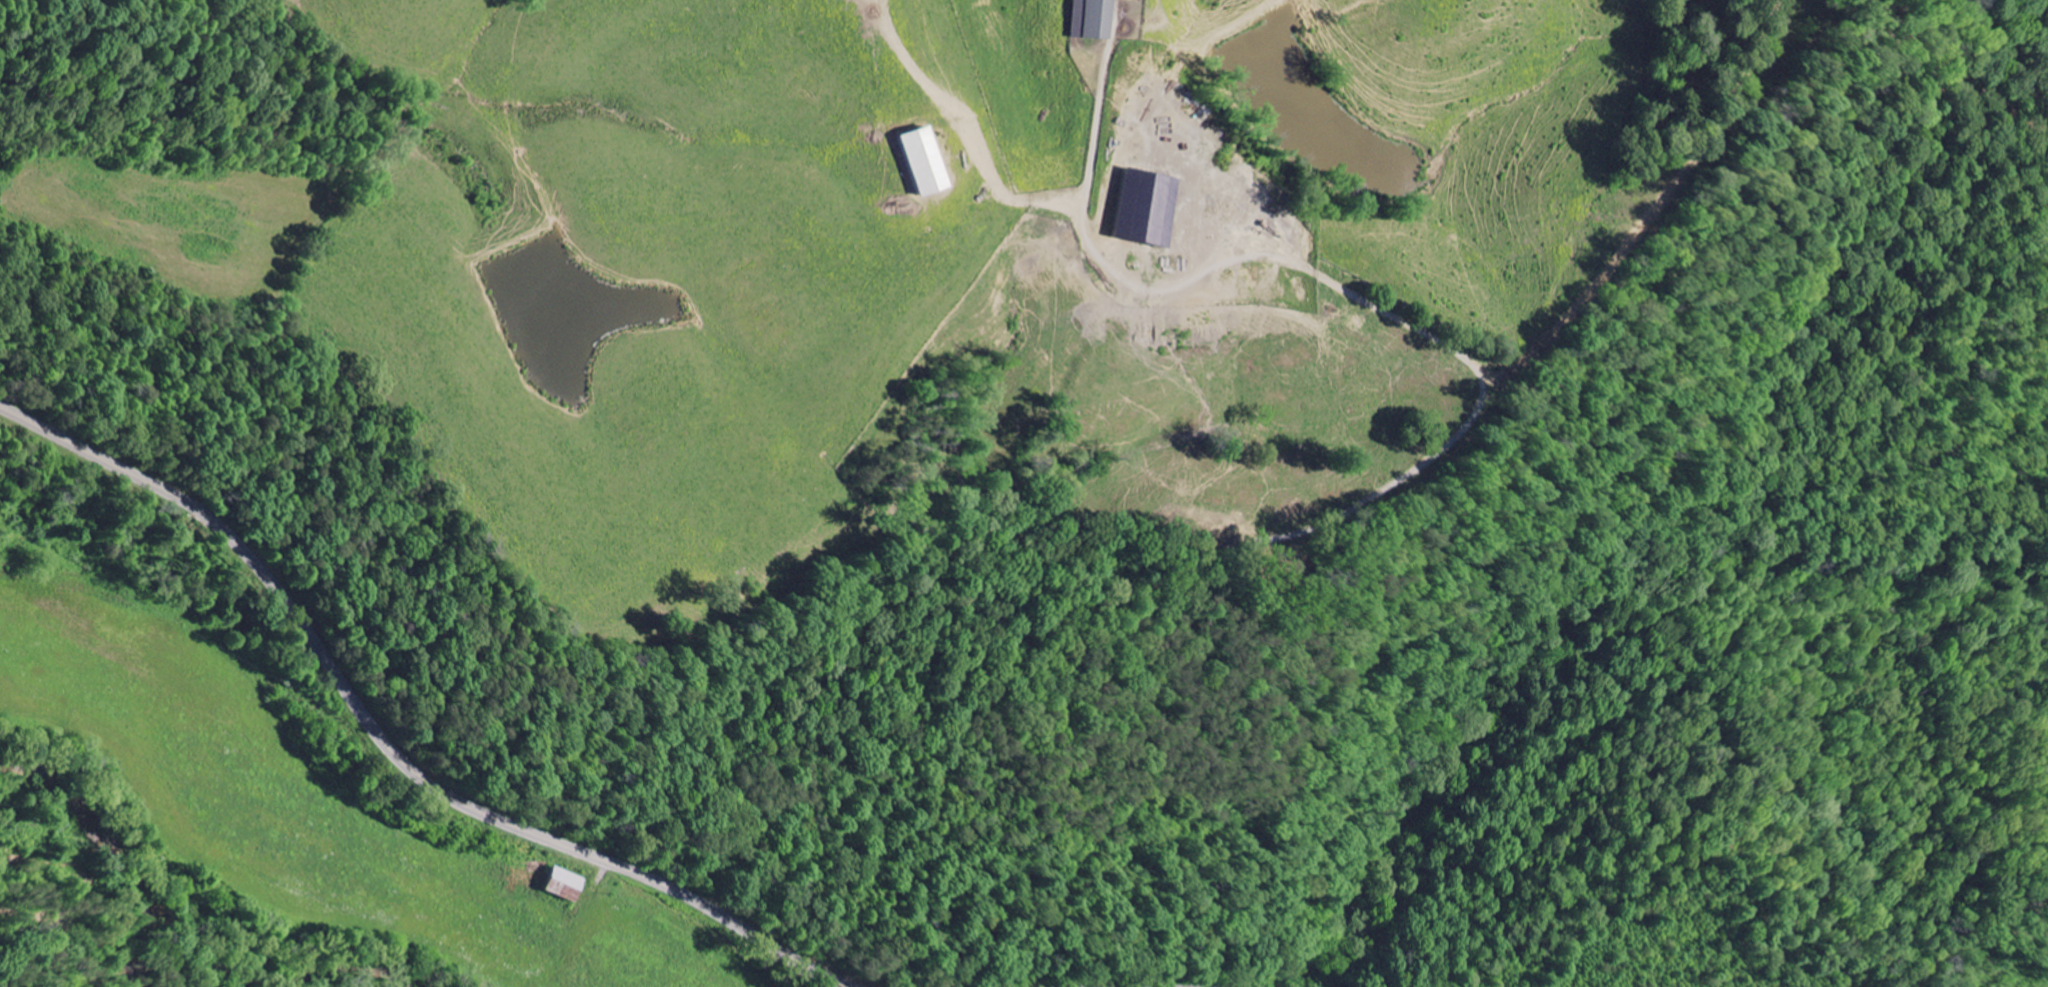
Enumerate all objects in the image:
building: (1090, 18)
building: (923, 160)
building: (1146, 206)
road: (385, 746)
building: (560, 884)
road: (800, 969)

